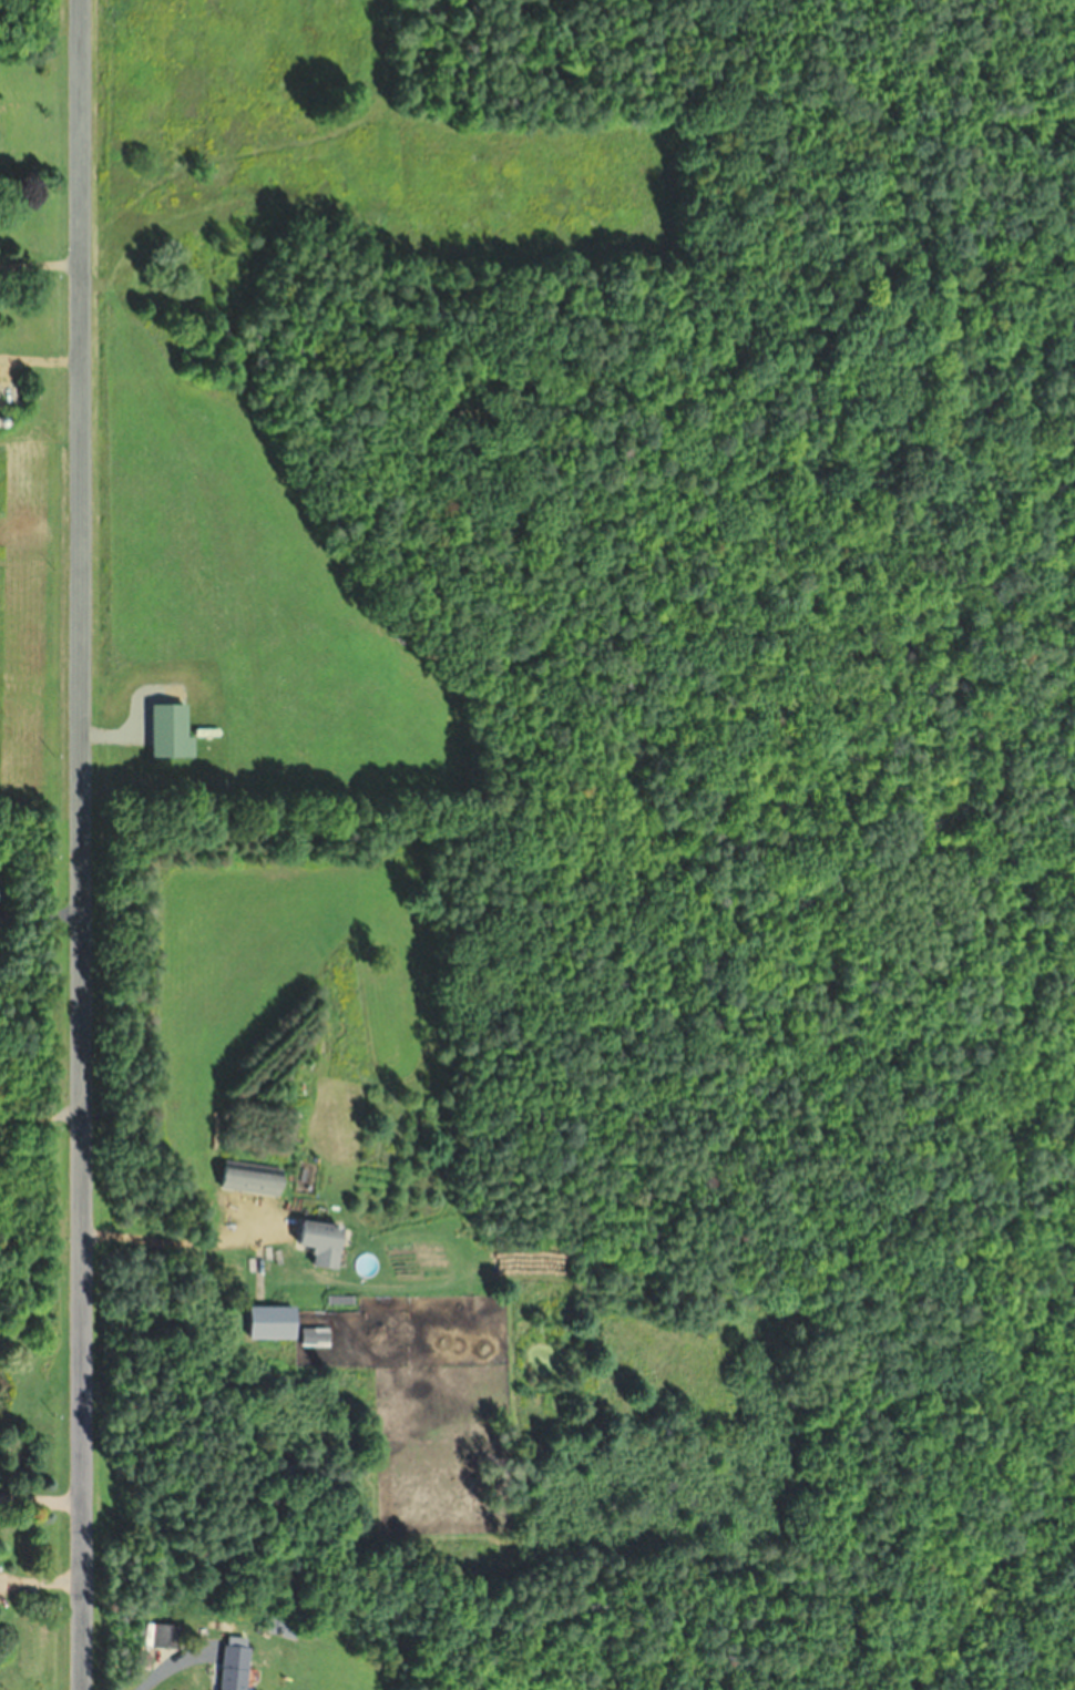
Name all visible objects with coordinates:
crop: (178, 410)
building: (6, 421)
road: (82, 844)
building: (1, 894)
building: (254, 1177)
building: (326, 1241)
building: (275, 1321)
building: (317, 1335)
building: (284, 1626)
building: (168, 1636)
building: (236, 1667)

